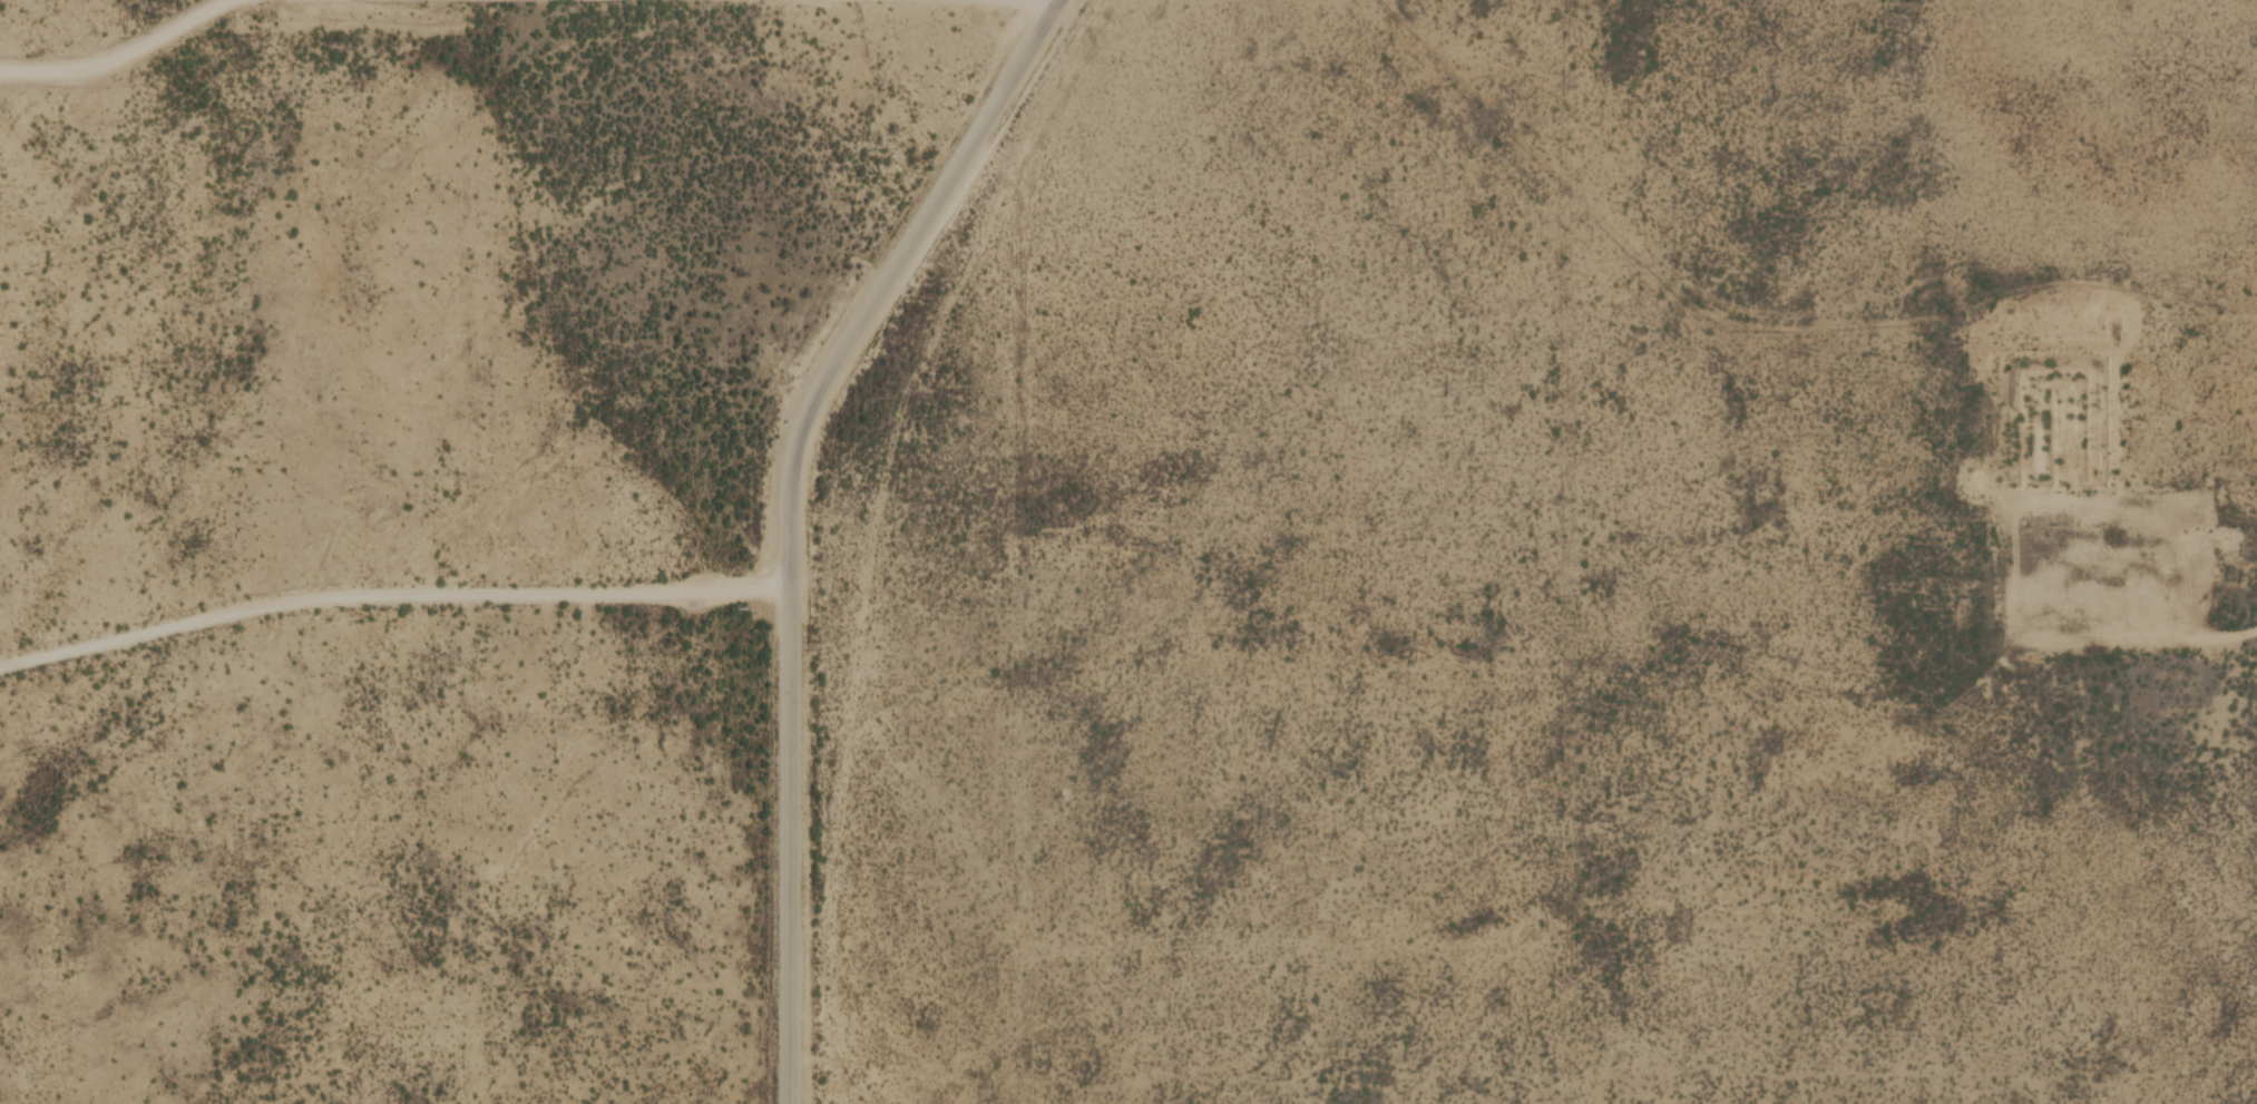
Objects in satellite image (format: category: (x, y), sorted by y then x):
road: (533, 1)
road: (817, 1)
road: (134, 53)
road: (793, 510)
road: (2116, 592)
road: (393, 593)

